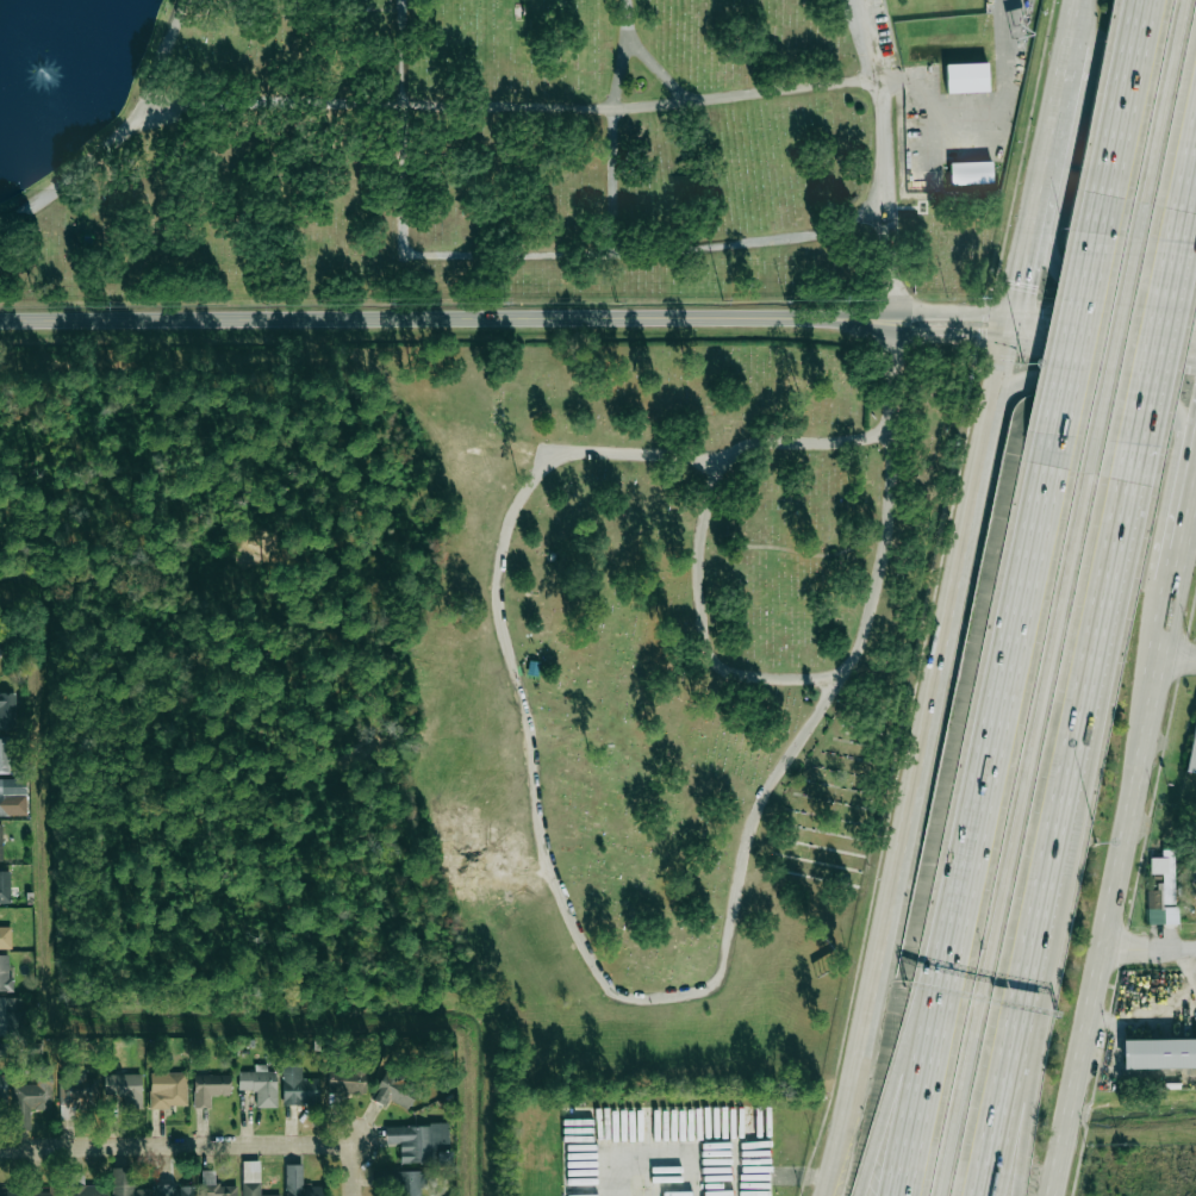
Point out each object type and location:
road: (1072, 19)
building: (1016, 24)
road: (866, 38)
road: (658, 70)
fountain: (44, 71)
building: (967, 77)
road: (879, 85)
road: (1057, 94)
road: (509, 106)
road: (1123, 117)
road: (1163, 118)
road: (976, 124)
road: (611, 126)
road: (403, 127)
road: (122, 135)
park: (504, 145)
building: (970, 172)
road: (1036, 199)
road: (1186, 200)
road: (884, 203)
road: (648, 251)
road: (1020, 281)
traffic signals: (1020, 282)
road: (1105, 288)
road: (921, 311)
traffic signals: (1044, 318)
road: (415, 320)
road: (1104, 324)
road: (871, 331)
road: (1076, 335)
traffic signals: (979, 337)
road: (1115, 338)
road: (1155, 342)
road: (1054, 344)
traffic signals: (1189, 361)
road: (1096, 386)
building: (517, 413)
road: (722, 454)
road: (1185, 530)
road: (791, 550)
road: (702, 622)
road: (1166, 648)
building: (0, 649)
building: (1, 653)
road: (1179, 661)
park: (480, 678)
road: (995, 683)
building: (7, 710)
building: (5, 754)
building: (1192, 754)
road: (921, 755)
building: (2, 804)
road: (1009, 816)
road: (1065, 820)
building: (1, 842)
building: (5, 886)
building: (1160, 886)
building: (5, 938)
road: (1150, 947)
road: (1102, 952)
building: (5, 972)
road: (717, 978)
building: (7, 1016)
road: (1041, 1017)
building: (4, 1049)
building: (1158, 1053)
road: (903, 1063)
road: (920, 1064)
building: (347, 1079)
building: (260, 1085)
building: (298, 1085)
building: (122, 1090)
building: (212, 1090)
building: (394, 1090)
building: (169, 1092)
building: (2, 1096)
building: (77, 1096)
building: (30, 1098)
building: (413, 1142)
road: (176, 1145)
road: (666, 1160)
building: (250, 1166)
road: (353, 1169)
road: (791, 1173)
building: (125, 1183)
building: (298, 1183)
building: (409, 1184)
building: (85, 1186)
building: (217, 1189)
building: (251, 1189)
building: (176, 1190)
building: (10, 1191)
building: (44, 1191)

